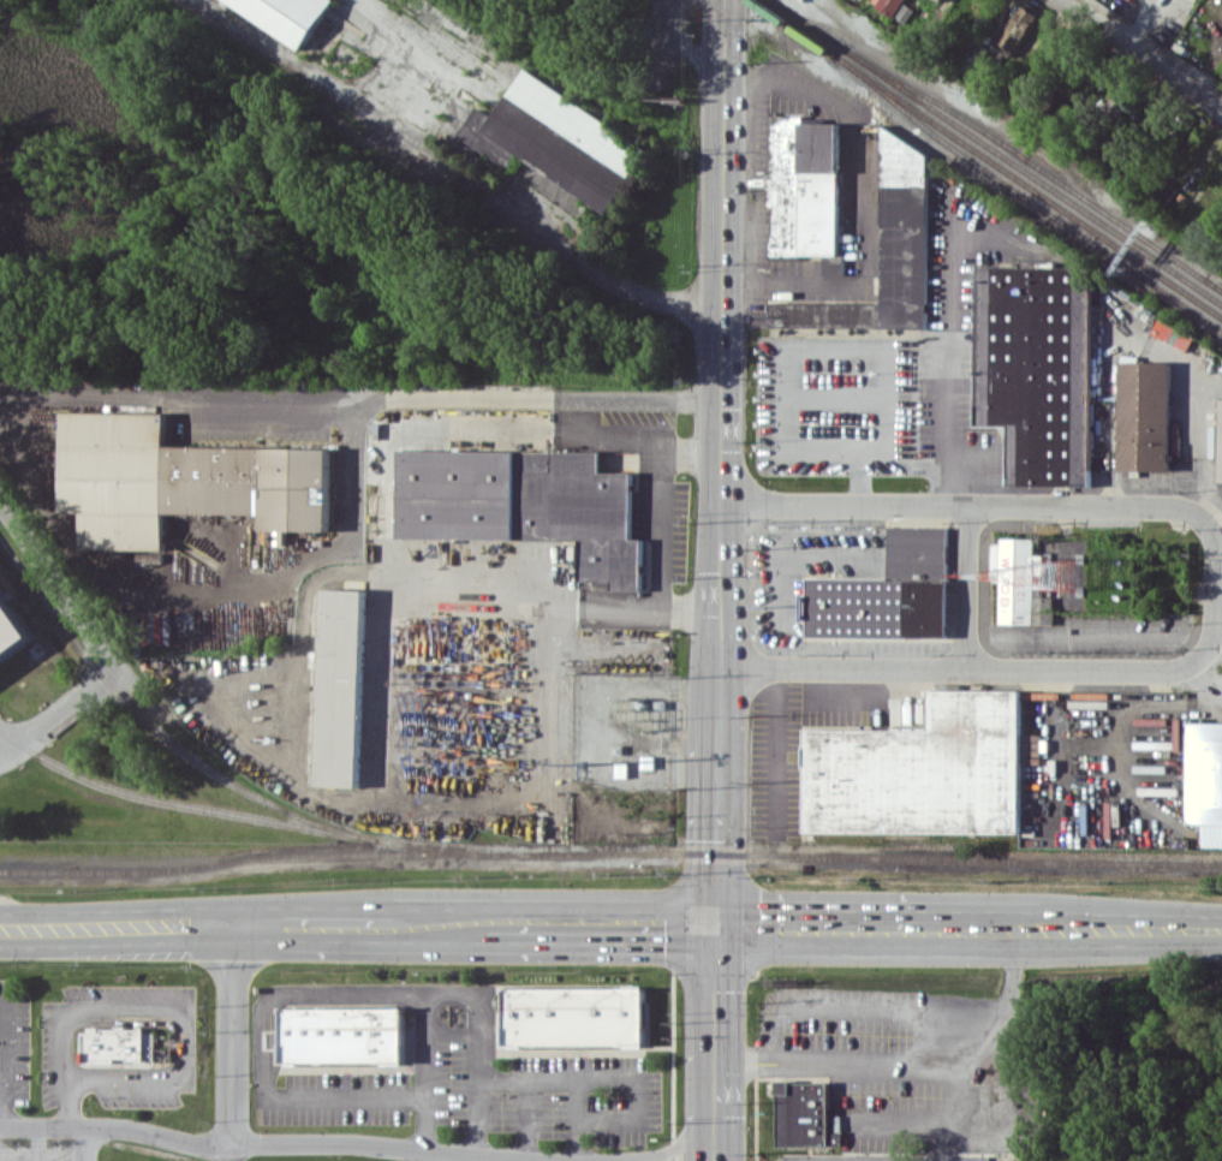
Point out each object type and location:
building: (942, 0)
building: (889, 5)
building: (905, 12)
building: (287, 16)
building: (1017, 30)
road: (1140, 54)
building: (559, 139)
railway: (997, 150)
railway: (986, 159)
railway: (1032, 162)
road: (458, 172)
building: (804, 186)
railway: (1025, 198)
road: (868, 203)
building: (886, 252)
building: (834, 264)
railway: (1212, 282)
building: (1174, 333)
road: (722, 355)
building: (1037, 369)
road: (537, 395)
road: (179, 405)
building: (1146, 415)
building: (1220, 442)
building: (180, 480)
road: (655, 496)
building: (525, 504)
road: (965, 511)
building: (154, 555)
building: (1017, 577)
road: (973, 584)
road: (209, 585)
road: (1211, 589)
building: (888, 591)
road: (553, 606)
building: (11, 629)
road: (101, 645)
road: (956, 656)
road: (1205, 678)
building: (341, 687)
railway: (157, 730)
road: (777, 745)
building: (922, 770)
building: (1205, 780)
railway: (237, 814)
road: (717, 816)
railway: (856, 856)
railway: (244, 859)
road: (439, 923)
road: (602, 923)
traffic signals: (716, 923)
road: (336, 925)
road: (258, 927)
road: (827, 927)
road: (117, 928)
road: (976, 930)
road: (1027, 930)
road: (1131, 930)
road: (1011, 972)
road: (410, 990)
road: (824, 1006)
road: (173, 1010)
road: (961, 1012)
building: (574, 1016)
building: (342, 1034)
road: (448, 1035)
road: (232, 1036)
road: (716, 1042)
building: (119, 1044)
road: (762, 1054)
road: (255, 1059)
road: (729, 1059)
road: (902, 1061)
road: (1, 1062)
road: (762, 1066)
road: (424, 1070)
road: (603, 1079)
road: (473, 1092)
road: (65, 1108)
road: (926, 1113)
building: (805, 1114)
road: (525, 1117)
road: (577, 1119)
road: (937, 1137)
road: (297, 1142)
road: (36, 1143)
road: (85, 1143)
road: (669, 1149)
road: (231, 1153)
road: (423, 1154)
road: (478, 1156)
road: (531, 1159)
road: (584, 1160)

